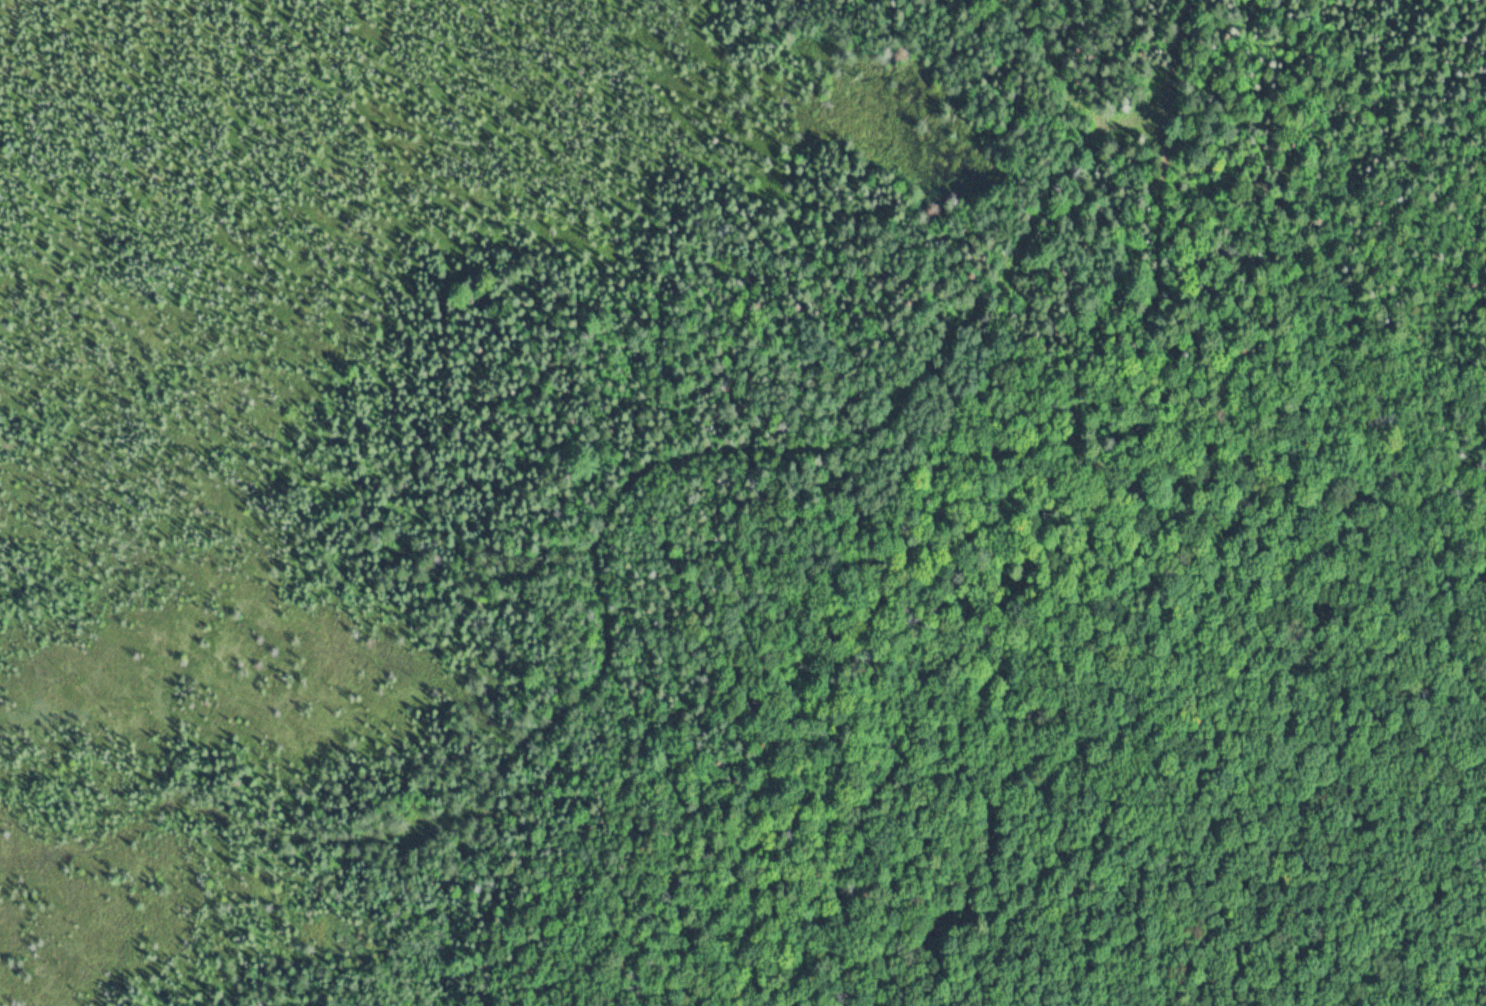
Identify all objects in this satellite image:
road: (1303, 324)
road: (1069, 648)

